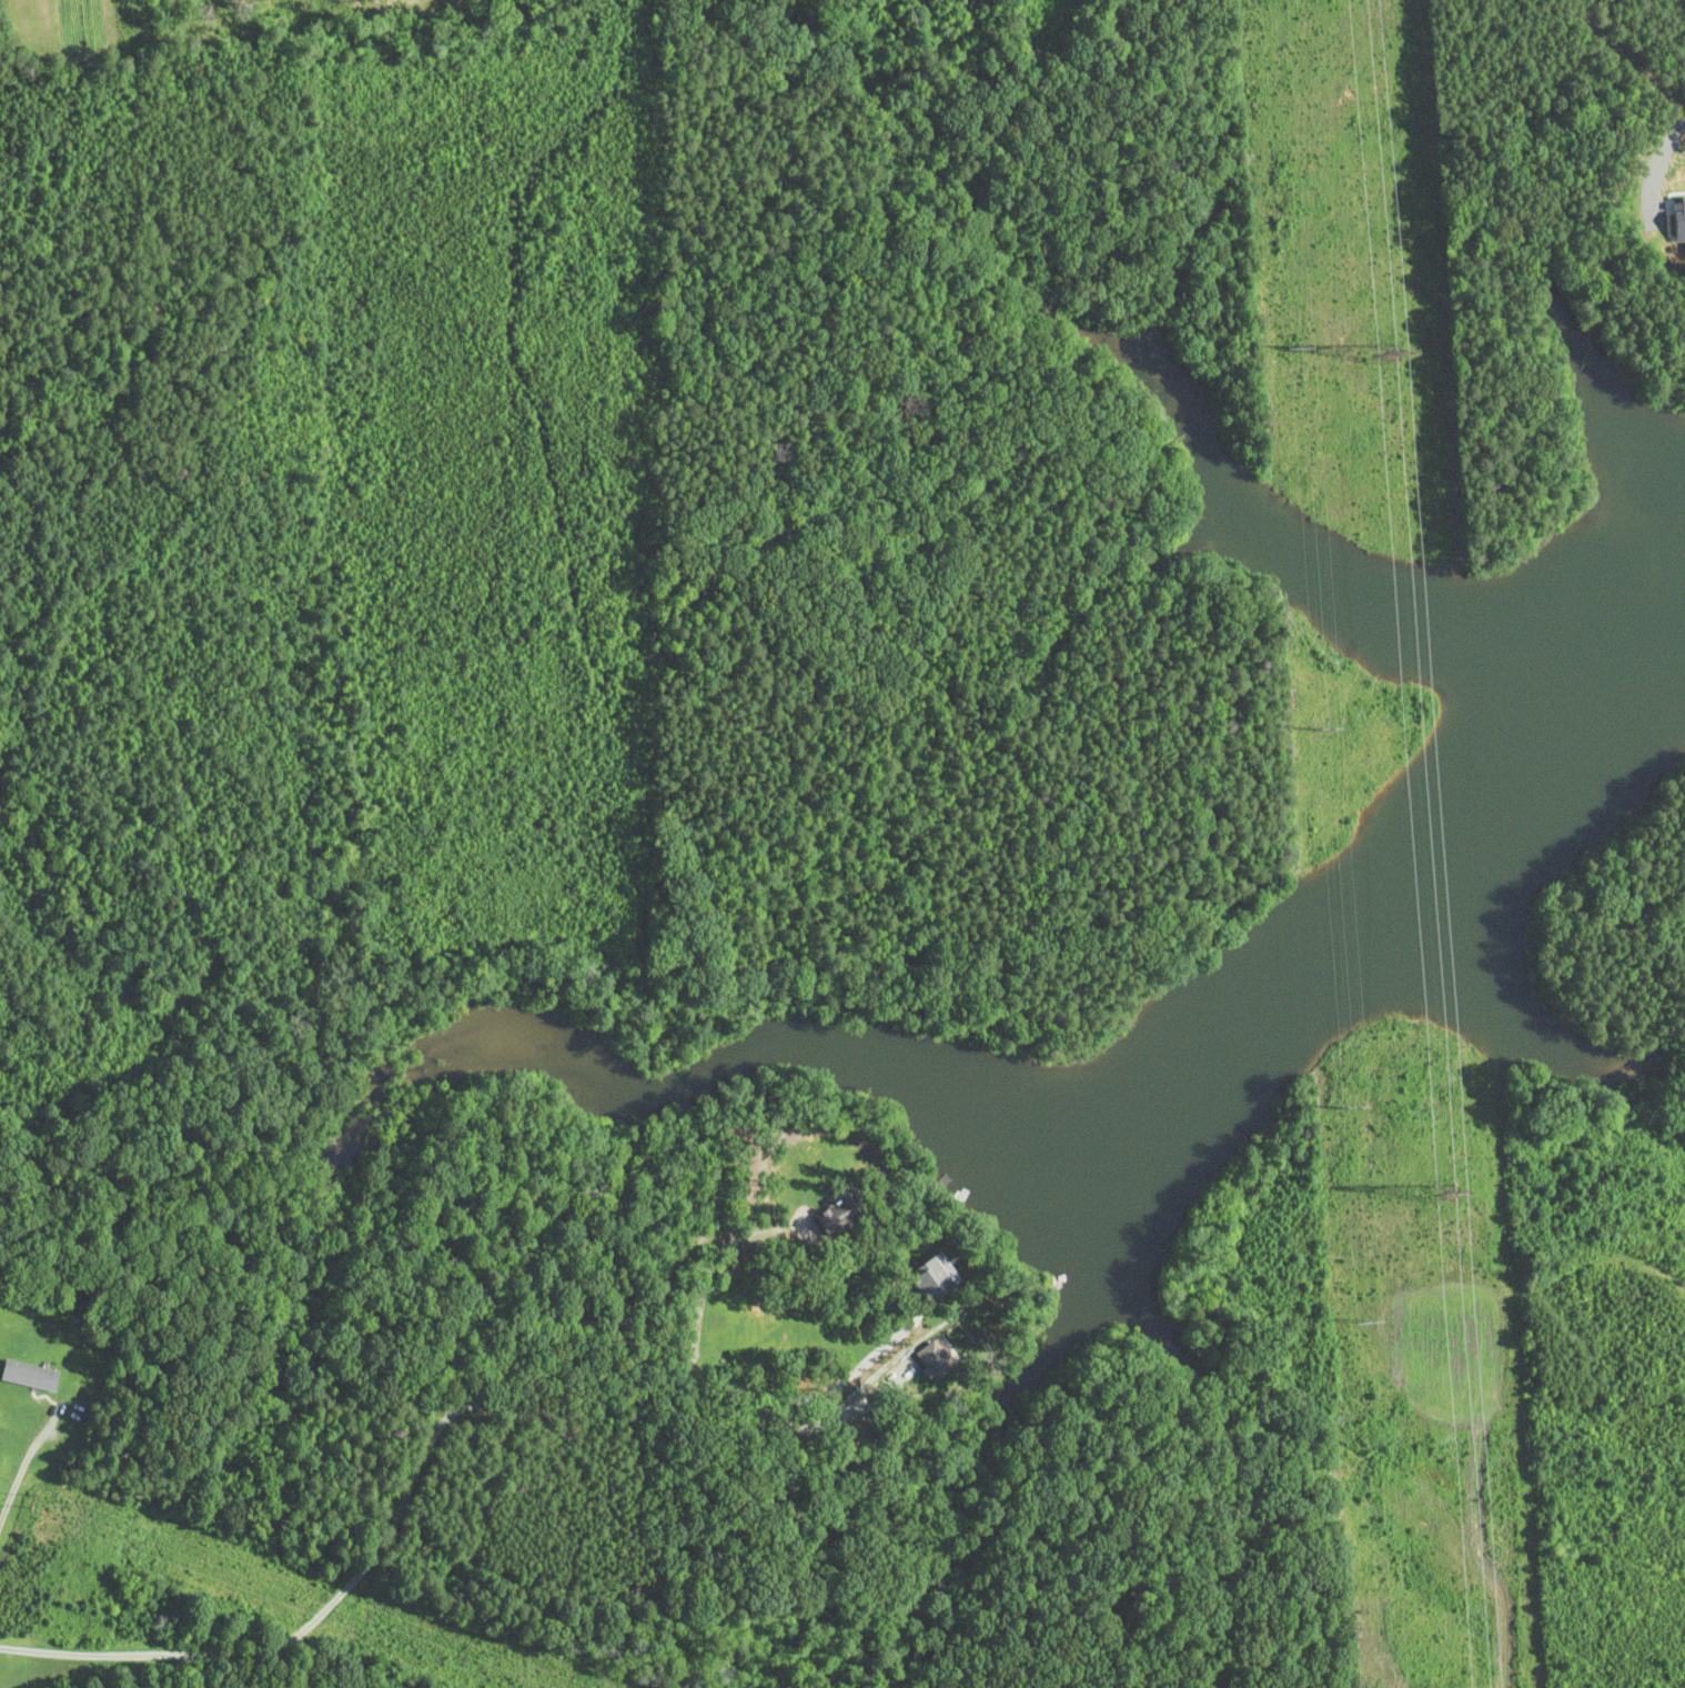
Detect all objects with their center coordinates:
power tower: (1301, 349)
power tower: (1374, 355)
power tower: (1329, 729)
power tower: (1354, 1107)
power tower: (1443, 1178)
building: (838, 1219)
building: (937, 1278)
power tower: (1366, 1322)
building: (31, 1376)
road: (373, 1558)
power tower: (417, 1558)

